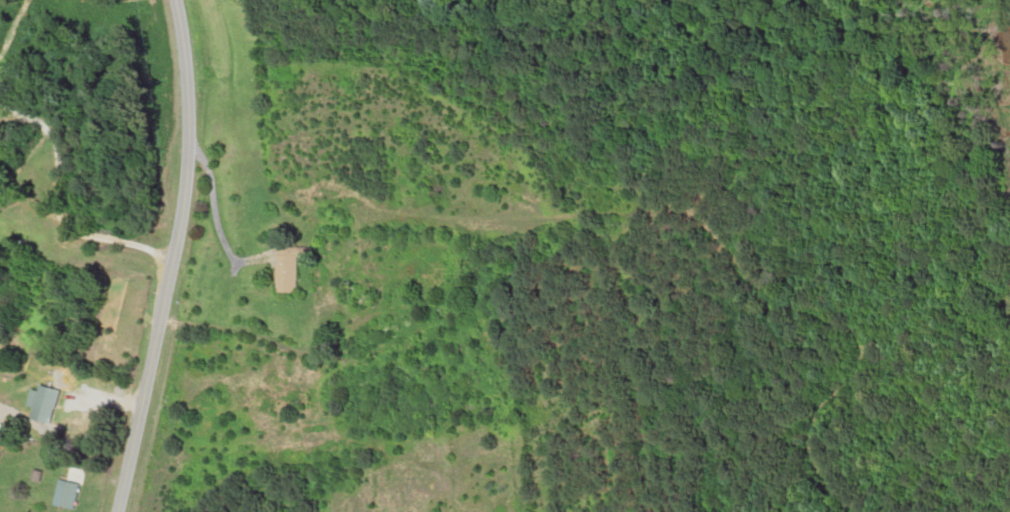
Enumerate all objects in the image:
road: (77, 102)
road: (149, 256)
building: (298, 272)
building: (55, 403)
building: (77, 493)

